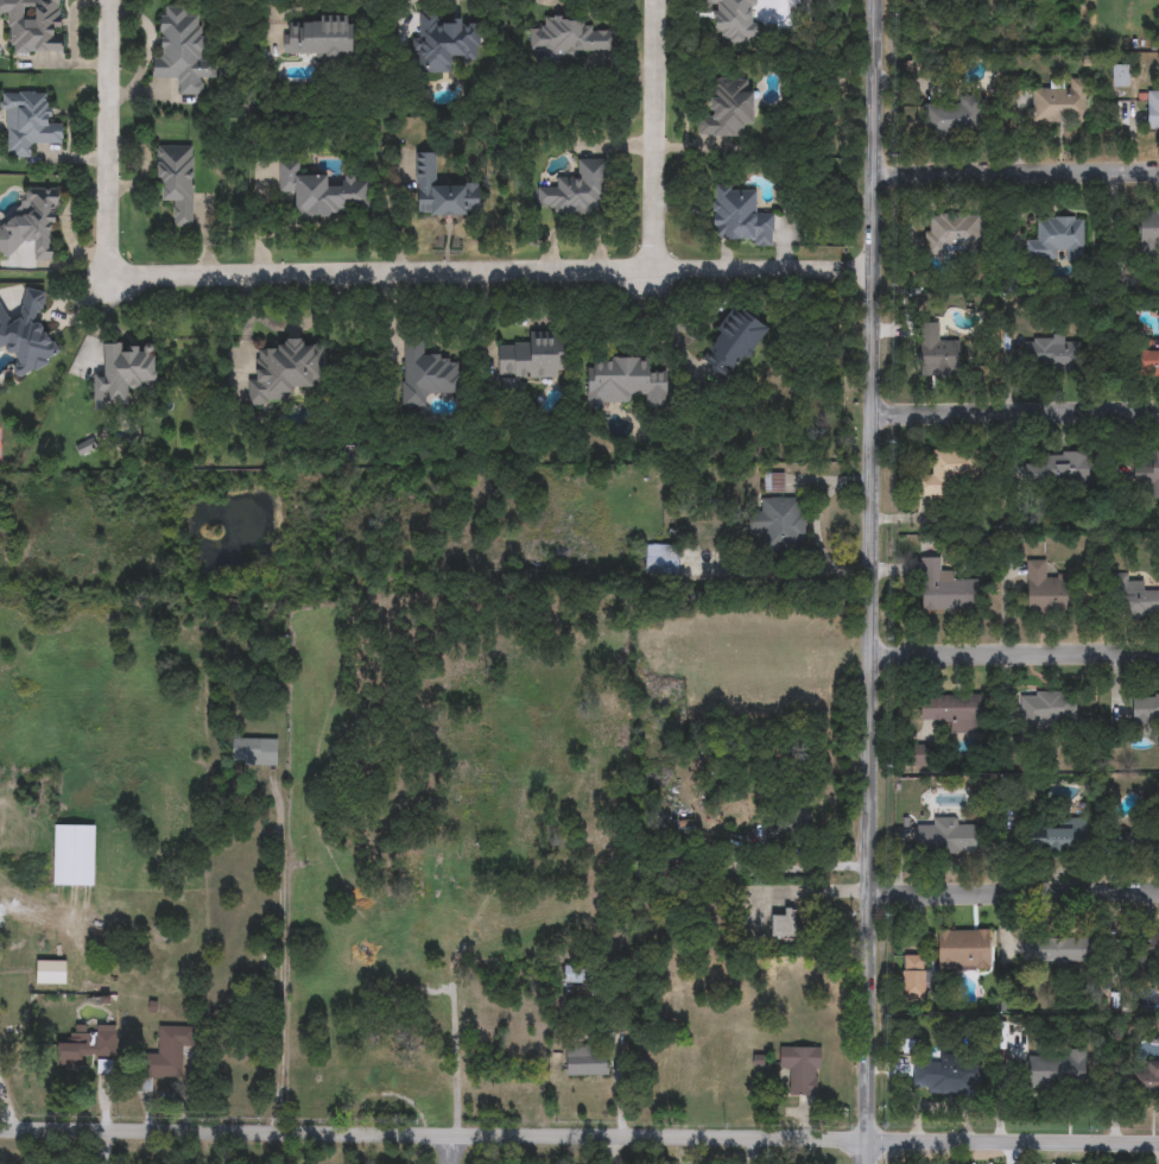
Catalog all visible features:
building: (733, 19)
building: (33, 25)
building: (319, 38)
building: (568, 38)
building: (443, 44)
building: (183, 52)
building: (1120, 76)
building: (1059, 103)
building: (727, 108)
building: (1152, 110)
building: (949, 115)
building: (27, 122)
road: (653, 134)
road: (109, 138)
road: (1018, 170)
building: (176, 182)
building: (577, 190)
building: (321, 191)
building: (442, 191)
building: (739, 216)
building: (32, 226)
building: (1148, 229)
building: (952, 233)
building: (1054, 239)
road: (476, 271)
road: (860, 271)
building: (26, 336)
building: (730, 344)
building: (935, 352)
building: (1051, 353)
building: (532, 356)
building: (1145, 356)
building: (126, 371)
building: (281, 373)
building: (425, 375)
building: (625, 381)
road: (1019, 412)
building: (1058, 470)
building: (1146, 470)
building: (939, 476)
building: (773, 482)
building: (783, 523)
building: (669, 559)
road: (876, 582)
building: (944, 588)
building: (1044, 589)
building: (1132, 597)
road: (1018, 651)
building: (1047, 709)
building: (1145, 709)
building: (951, 711)
building: (254, 752)
building: (917, 755)
building: (1129, 835)
building: (1057, 836)
building: (944, 837)
building: (74, 855)
road: (807, 871)
road: (1018, 886)
building: (784, 924)
building: (1147, 947)
building: (963, 950)
building: (1056, 950)
road: (281, 970)
building: (425, 986)
building: (84, 1046)
building: (166, 1055)
building: (585, 1062)
building: (800, 1070)
building: (1054, 1071)
building: (946, 1075)
building: (1142, 1077)
road: (579, 1137)
road: (455, 1149)

